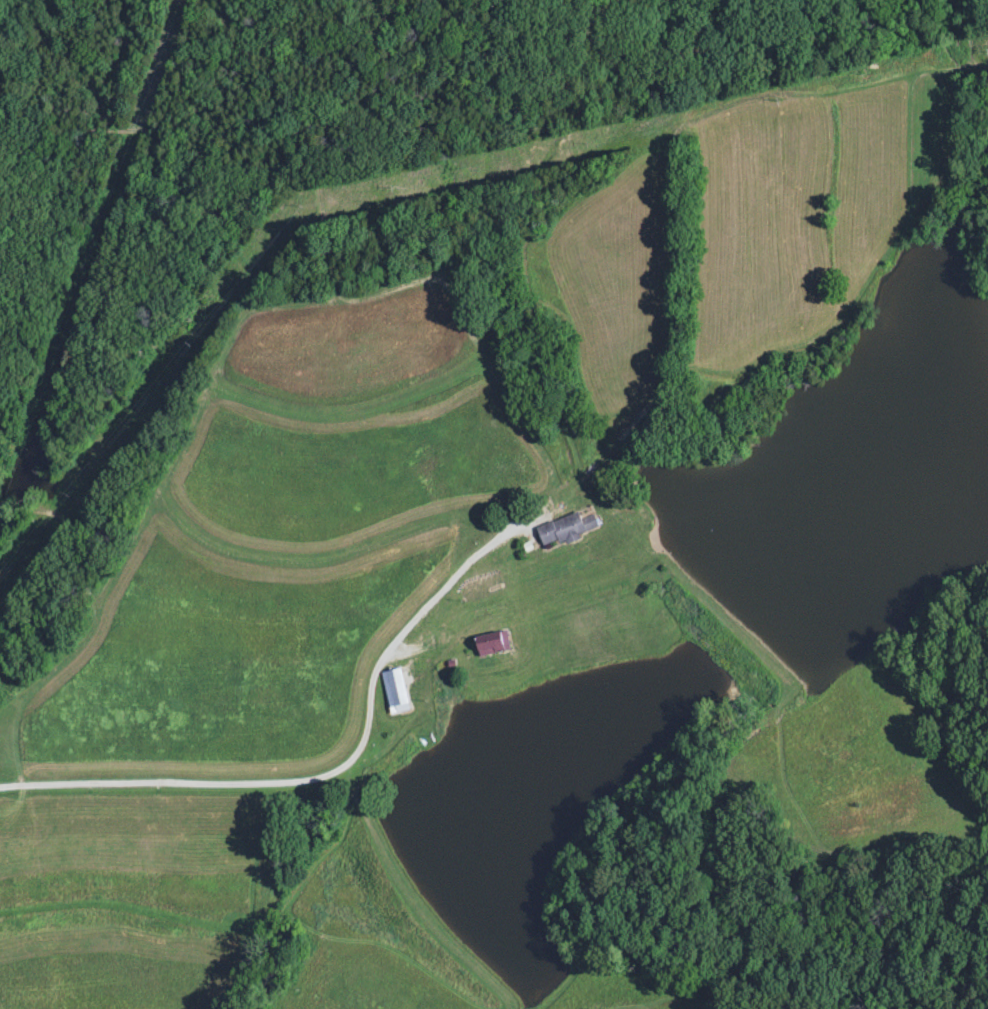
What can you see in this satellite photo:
building: (563, 530)
building: (488, 646)
building: (392, 693)
road: (336, 774)

